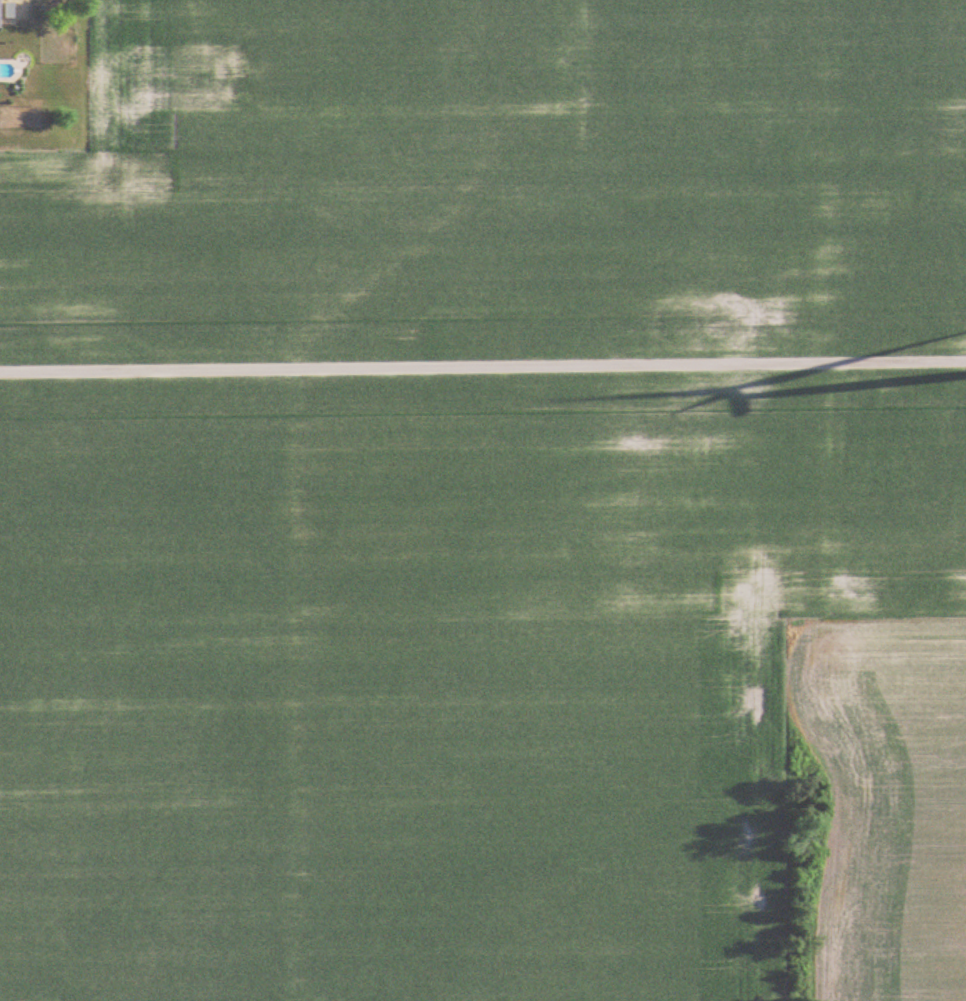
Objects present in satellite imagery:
building: (0, 14)
road: (483, 364)

